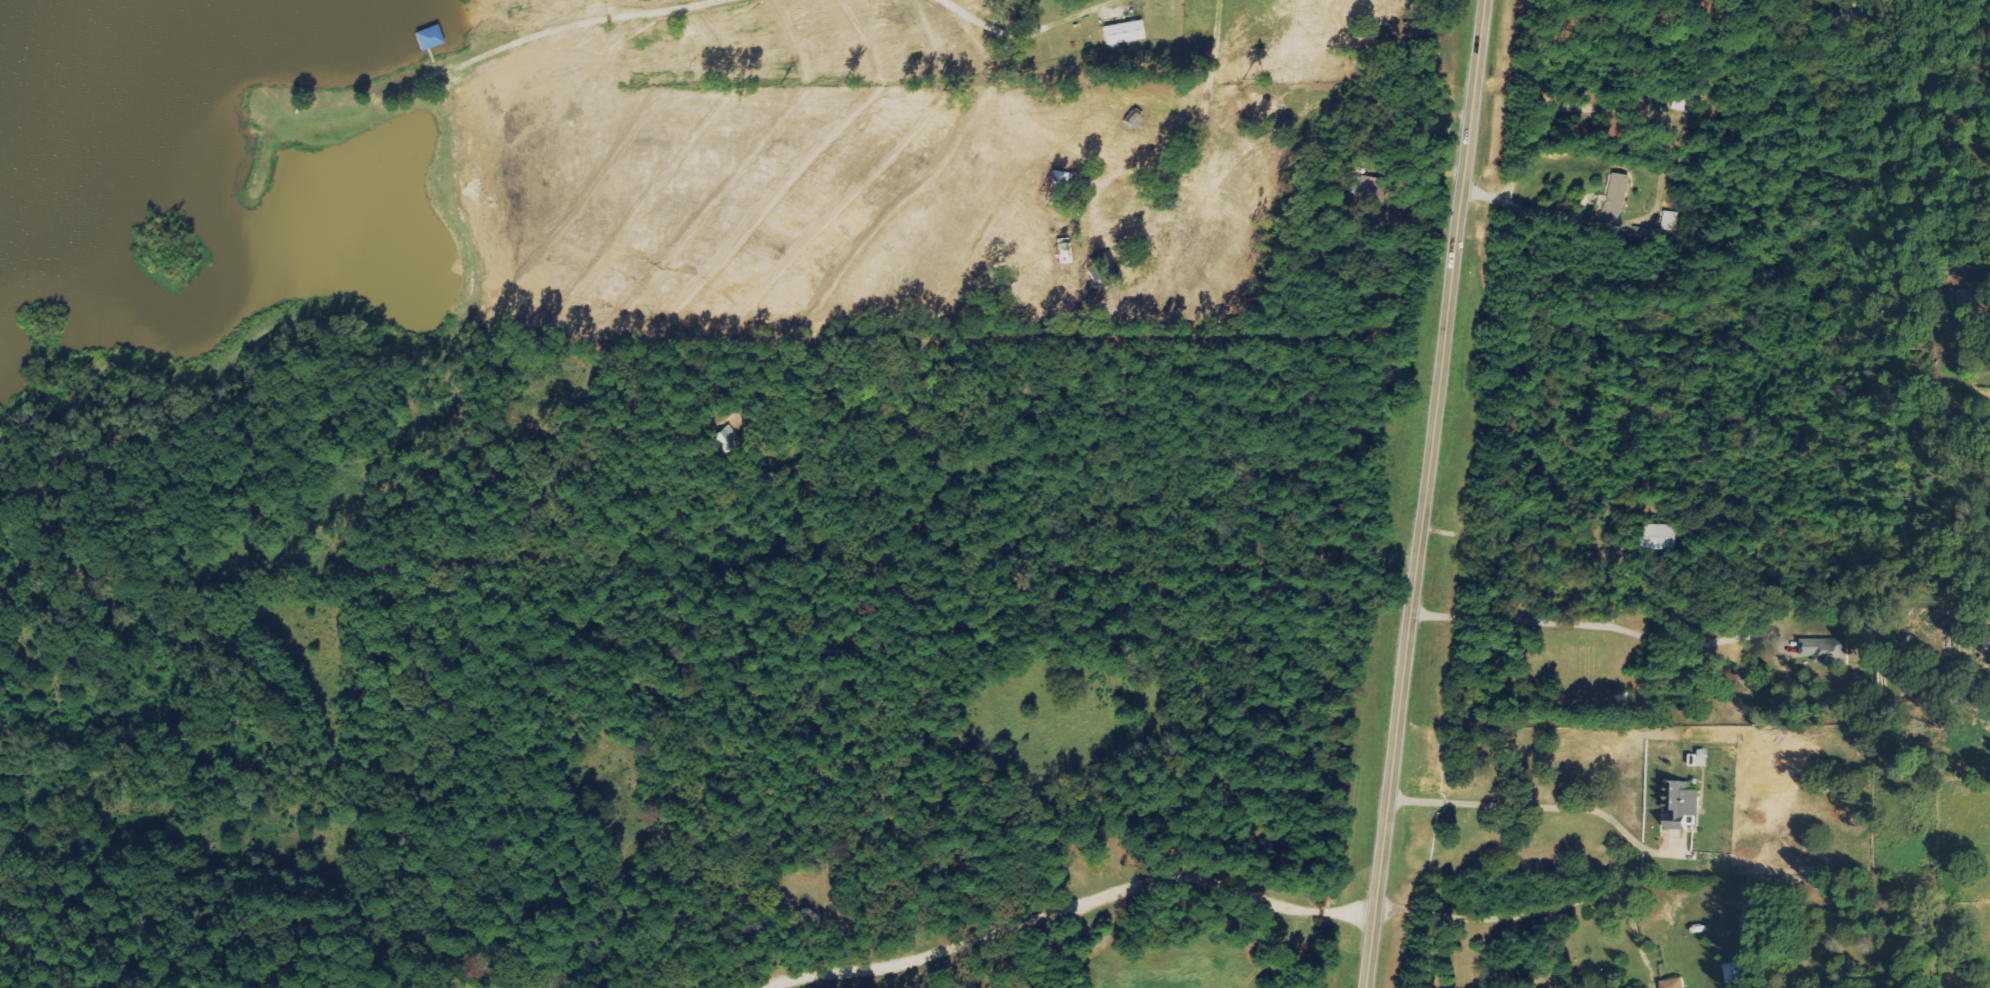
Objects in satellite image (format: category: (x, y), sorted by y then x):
building: (1123, 32)
building: (1616, 196)
building: (1960, 296)
road: (1725, 414)
road: (1426, 493)
building: (1826, 649)
building: (1681, 803)
road: (1054, 894)
road: (1531, 914)
building: (1736, 971)
building: (1675, 982)

